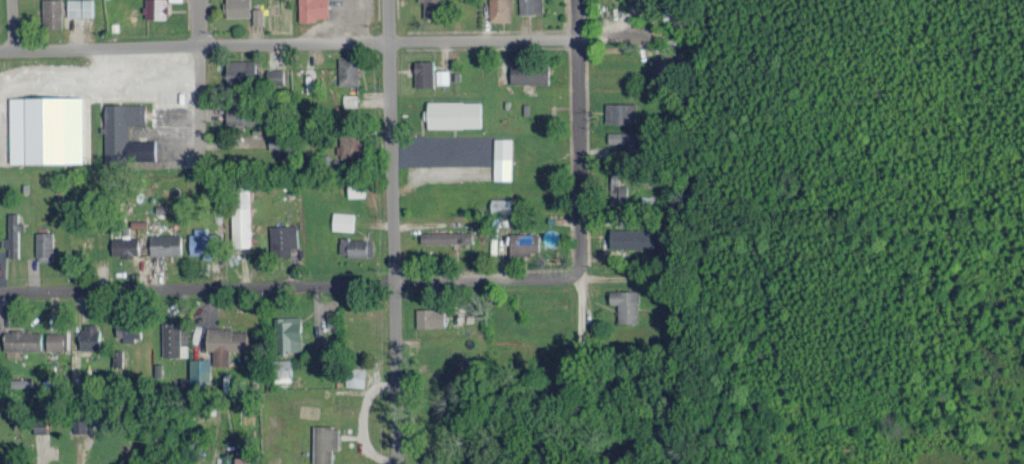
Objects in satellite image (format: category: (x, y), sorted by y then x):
building: (531, 6)
building: (80, 7)
building: (236, 7)
building: (432, 8)
building: (155, 9)
building: (314, 9)
building: (500, 10)
building: (52, 14)
building: (258, 16)
road: (13, 26)
road: (338, 41)
building: (665, 66)
road: (197, 69)
building: (241, 70)
building: (347, 70)
building: (423, 73)
building: (529, 73)
building: (275, 75)
building: (442, 76)
building: (309, 80)
building: (349, 99)
building: (621, 112)
building: (454, 113)
building: (243, 114)
building: (46, 129)
building: (125, 133)
road: (577, 136)
building: (621, 137)
building: (277, 141)
building: (350, 146)
building: (503, 158)
building: (356, 189)
building: (618, 190)
building: (501, 205)
building: (241, 216)
building: (343, 220)
road: (388, 232)
building: (12, 234)
building: (446, 237)
building: (283, 238)
building: (203, 241)
building: (165, 243)
building: (525, 243)
building: (124, 245)
building: (44, 246)
building: (356, 246)
road: (512, 280)
building: (626, 304)
building: (430, 317)
building: (128, 330)
building: (287, 334)
building: (88, 336)
building: (171, 338)
building: (22, 339)
building: (56, 340)
building: (225, 343)
building: (117, 358)
building: (282, 370)
building: (199, 373)
building: (356, 376)
building: (21, 382)
building: (79, 425)
building: (40, 427)
building: (324, 443)
building: (244, 460)

